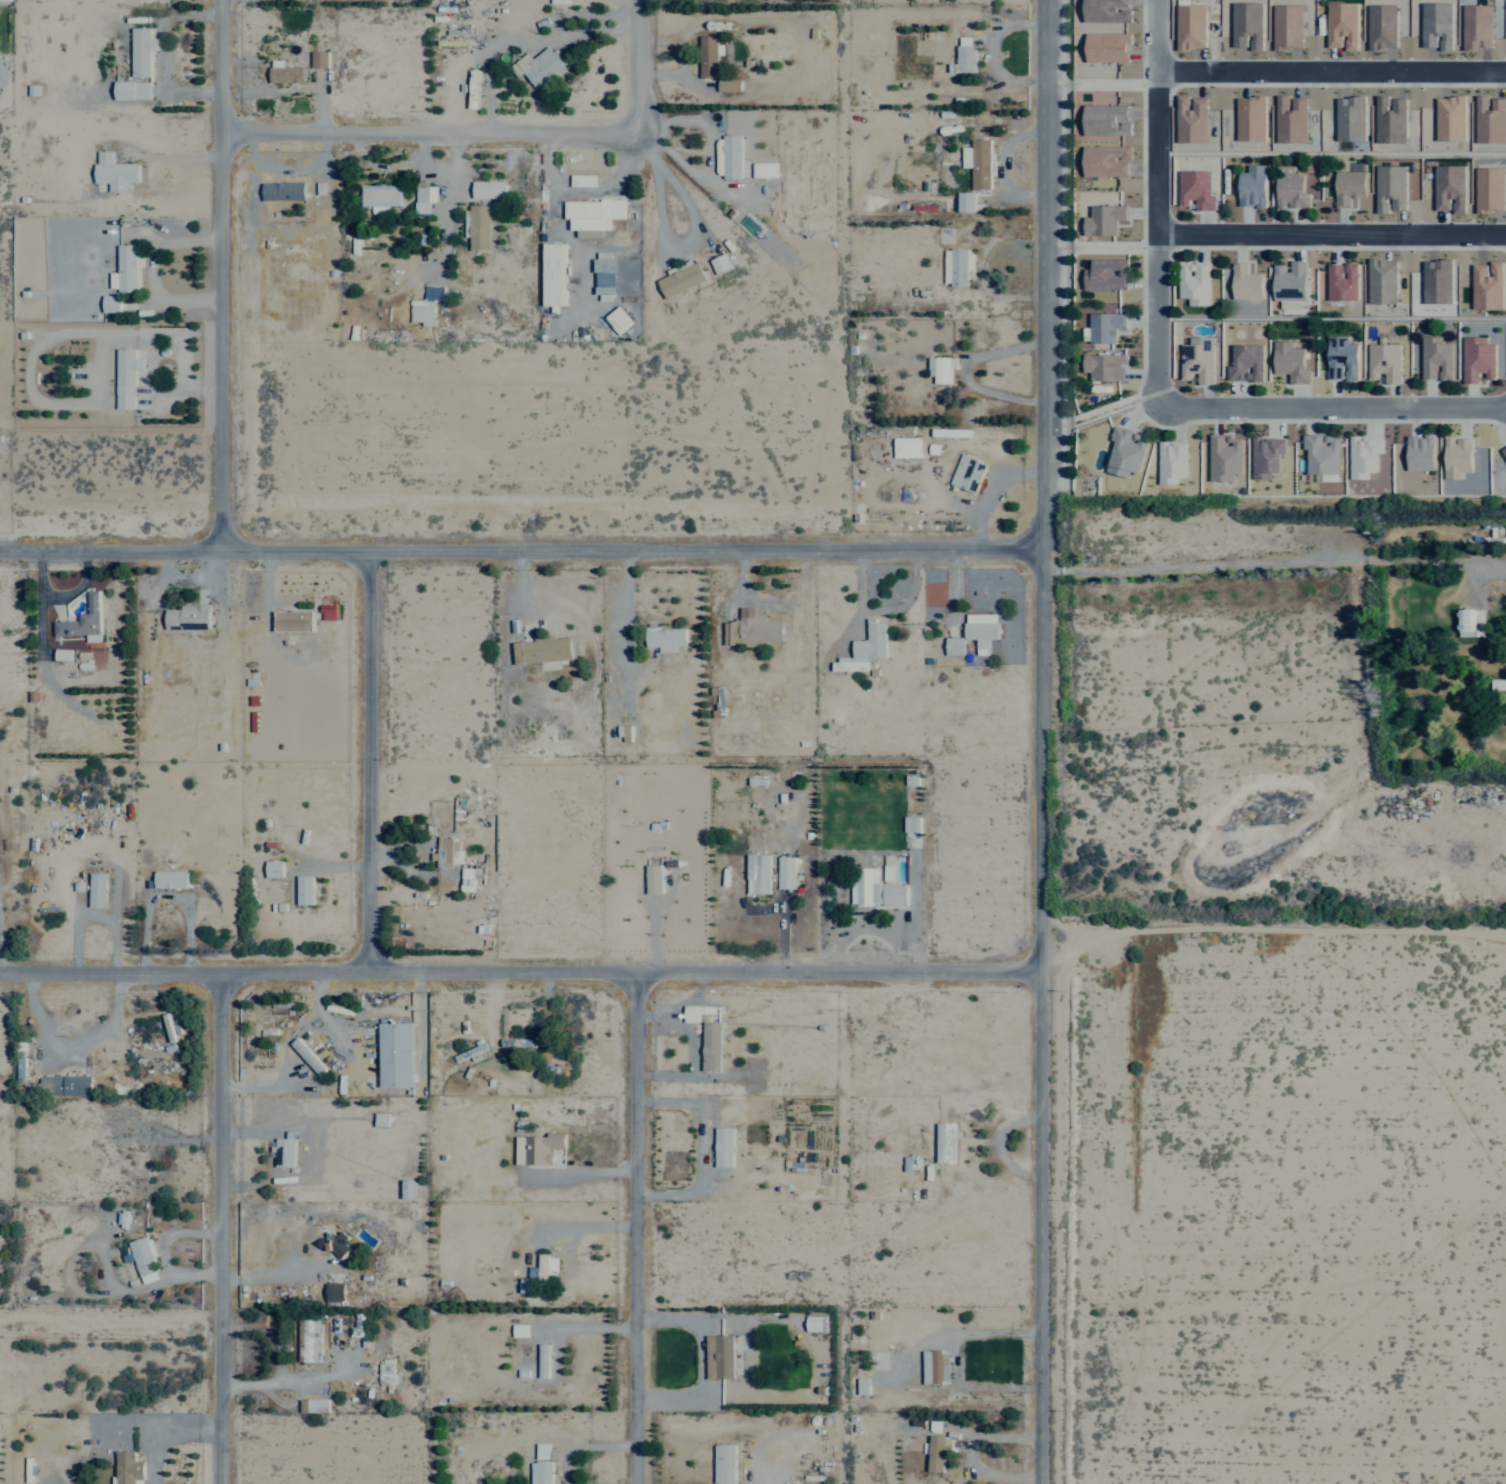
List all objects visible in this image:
building: (5, 0)
building: (142, 50)
road: (646, 53)
building: (966, 53)
building: (710, 55)
building: (320, 58)
building: (542, 65)
road: (1332, 71)
building: (286, 72)
building: (730, 84)
building: (474, 88)
building: (133, 89)
road: (438, 135)
building: (733, 155)
building: (979, 162)
building: (765, 169)
building: (116, 171)
building: (584, 179)
building: (1254, 186)
building: (1350, 186)
building: (1197, 188)
building: (489, 189)
building: (284, 190)
building: (1292, 190)
building: (381, 197)
building: (424, 198)
building: (966, 201)
road: (1158, 204)
building: (592, 213)
building: (1105, 218)
building: (480, 226)
road: (1332, 237)
building: (721, 263)
building: (958, 266)
building: (127, 267)
building: (554, 273)
building: (1108, 273)
road: (222, 276)
building: (607, 278)
building: (682, 279)
building: (1291, 280)
building: (1343, 280)
building: (1195, 282)
building: (1247, 282)
building: (111, 303)
building: (423, 311)
building: (620, 320)
building: (1106, 326)
building: (1342, 358)
building: (1437, 358)
building: (1198, 359)
building: (1479, 359)
building: (1291, 361)
building: (1385, 362)
building: (1247, 363)
building: (1105, 366)
building: (941, 369)
building: (127, 377)
road: (1334, 410)
building: (905, 447)
building: (1127, 451)
building: (1504, 451)
building: (1421, 452)
building: (1267, 455)
building: (1364, 455)
building: (1323, 456)
building: (1458, 456)
building: (1225, 457)
building: (1172, 462)
building: (969, 472)
road: (520, 553)
building: (328, 612)
building: (189, 617)
building: (295, 620)
building: (1466, 620)
building: (84, 621)
building: (752, 629)
building: (982, 629)
building: (666, 638)
building: (955, 646)
building: (866, 647)
building: (543, 650)
building: (64, 654)
building: (624, 732)
road: (1039, 741)
road: (375, 762)
building: (912, 824)
building: (448, 851)
building: (274, 869)
building: (786, 872)
building: (759, 873)
building: (171, 879)
building: (467, 879)
building: (654, 879)
building: (97, 889)
building: (305, 889)
building: (876, 889)
road: (518, 972)
building: (691, 1013)
building: (168, 1027)
building: (712, 1046)
building: (396, 1054)
building: (308, 1056)
building: (67, 1085)
building: (946, 1142)
building: (724, 1146)
building: (539, 1148)
building: (286, 1150)
building: (409, 1189)
road: (636, 1227)
road: (217, 1228)
building: (145, 1259)
building: (540, 1274)
building: (335, 1291)
building: (816, 1323)
building: (521, 1331)
building: (312, 1340)
building: (720, 1356)
building: (543, 1360)
building: (936, 1367)
building: (388, 1373)
building: (520, 1375)
building: (863, 1386)
building: (314, 1405)
building: (544, 1451)
building: (940, 1452)
building: (725, 1464)
building: (129, 1468)
building: (542, 1472)
building: (819, 1483)

